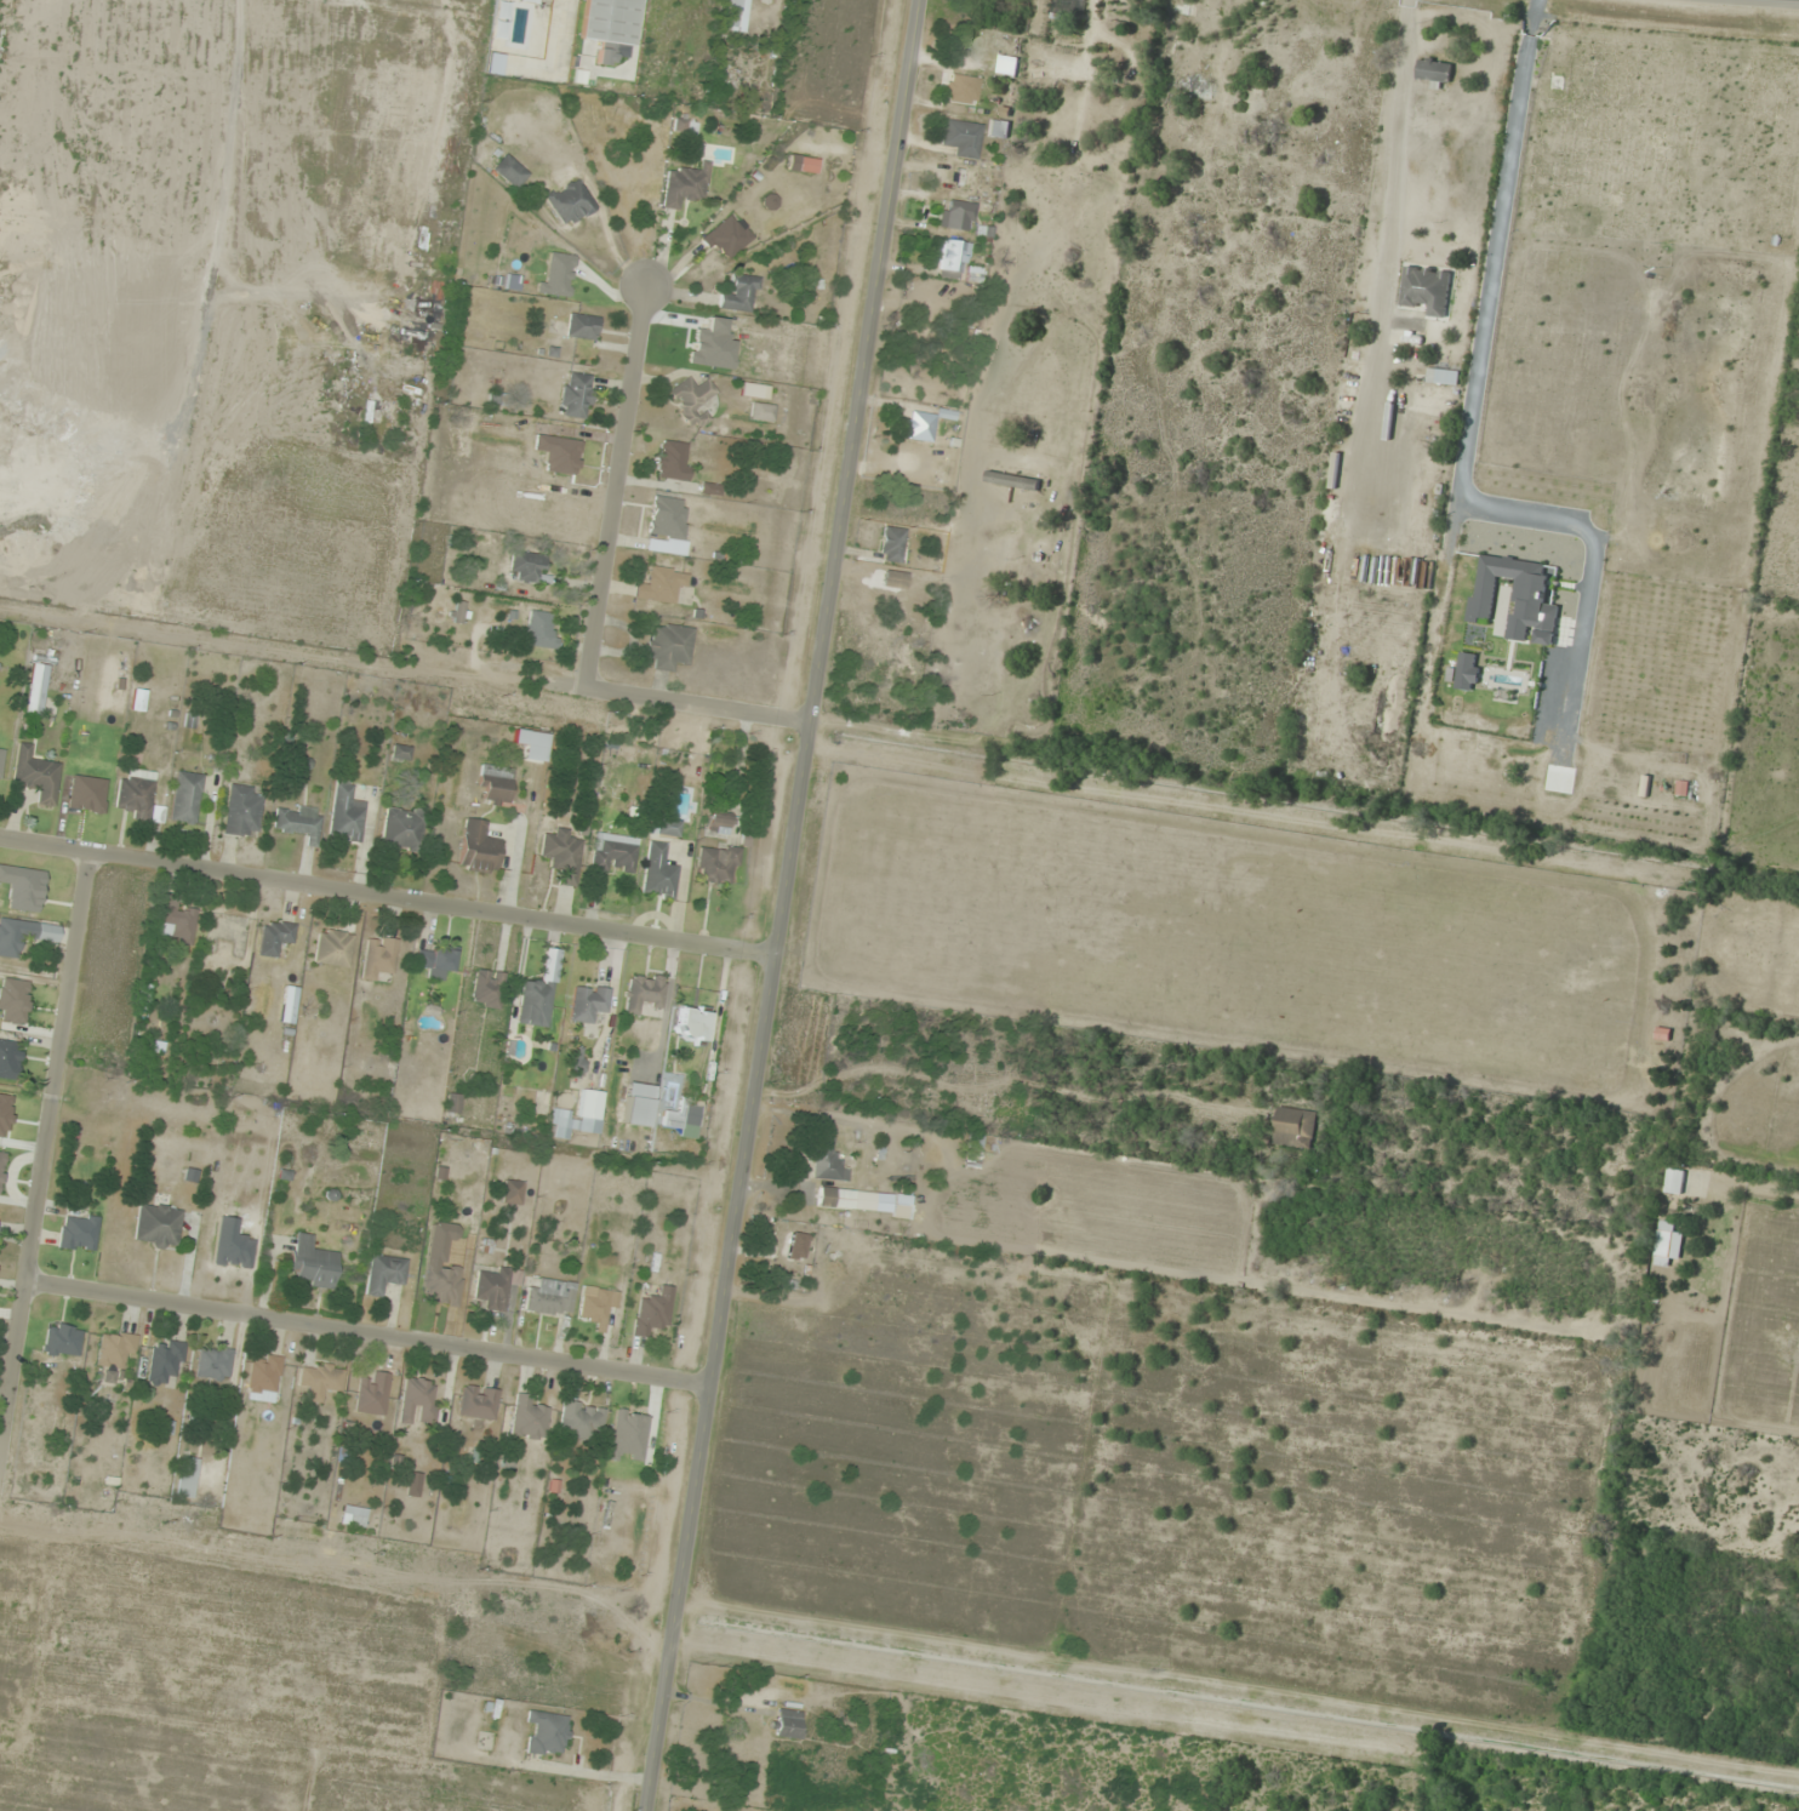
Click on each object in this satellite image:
building: (571, 1)
building: (735, 15)
building: (611, 25)
building: (1435, 74)
building: (964, 88)
building: (1199, 91)
building: (999, 130)
building: (963, 137)
building: (803, 164)
building: (510, 171)
building: (685, 185)
building: (572, 201)
building: (959, 215)
building: (729, 236)
building: (952, 257)
building: (1427, 288)
building: (742, 295)
building: (583, 326)
building: (1443, 377)
building: (577, 395)
building: (691, 396)
building: (763, 412)
building: (1432, 438)
building: (673, 461)
building: (1012, 482)
road: (615, 486)
building: (668, 519)
building: (891, 544)
building: (527, 566)
building: (662, 584)
building: (458, 611)
building: (539, 629)
building: (669, 646)
building: (38, 689)
road: (696, 703)
building: (532, 744)
building: (1, 762)
building: (36, 776)
building: (496, 784)
building: (135, 795)
building: (185, 798)
building: (241, 811)
building: (347, 813)
building: (299, 821)
building: (719, 824)
building: (664, 827)
building: (404, 828)
building: (479, 846)
building: (615, 852)
building: (562, 855)
building: (716, 864)
building: (659, 872)
building: (23, 887)
road: (387, 892)
road: (781, 904)
building: (178, 924)
building: (23, 933)
building: (275, 937)
building: (333, 948)
building: (379, 958)
building: (436, 962)
building: (487, 989)
building: (645, 994)
building: (535, 1001)
building: (587, 1002)
building: (691, 1024)
building: (10, 1059)
building: (638, 1104)
building: (579, 1116)
building: (1292, 1129)
building: (975, 1152)
road: (40, 1153)
building: (1, 1169)
building: (836, 1179)
building: (1674, 1184)
building: (513, 1192)
building: (158, 1224)
building: (79, 1232)
building: (1668, 1244)
building: (313, 1261)
building: (778, 1267)
building: (385, 1273)
building: (441, 1284)
building: (495, 1287)
building: (553, 1296)
building: (599, 1306)
building: (653, 1312)
road: (364, 1333)
building: (63, 1339)
building: (115, 1352)
building: (165, 1361)
building: (215, 1365)
building: (264, 1373)
building: (321, 1379)
building: (373, 1393)
building: (418, 1401)
building: (479, 1401)
building: (526, 1419)
building: (582, 1421)
building: (188, 1476)
building: (354, 1515)
building: (789, 1724)
building: (547, 1732)

